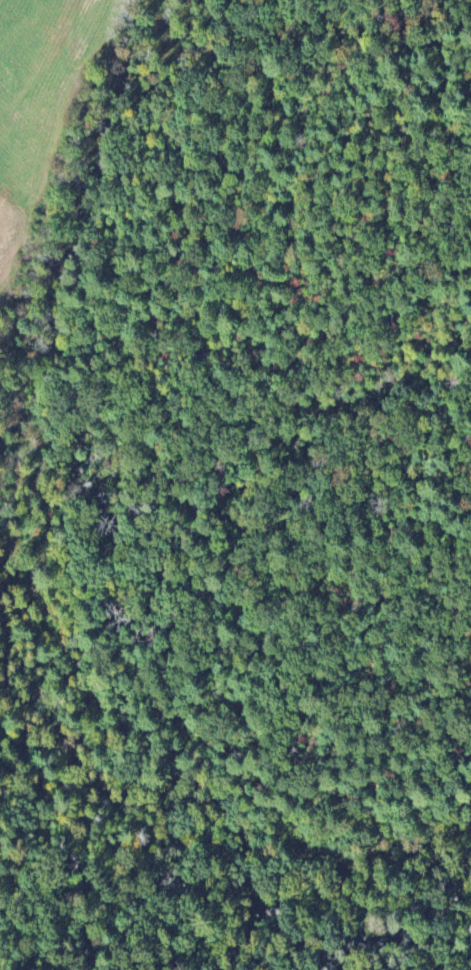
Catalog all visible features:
river: (62, 205)

